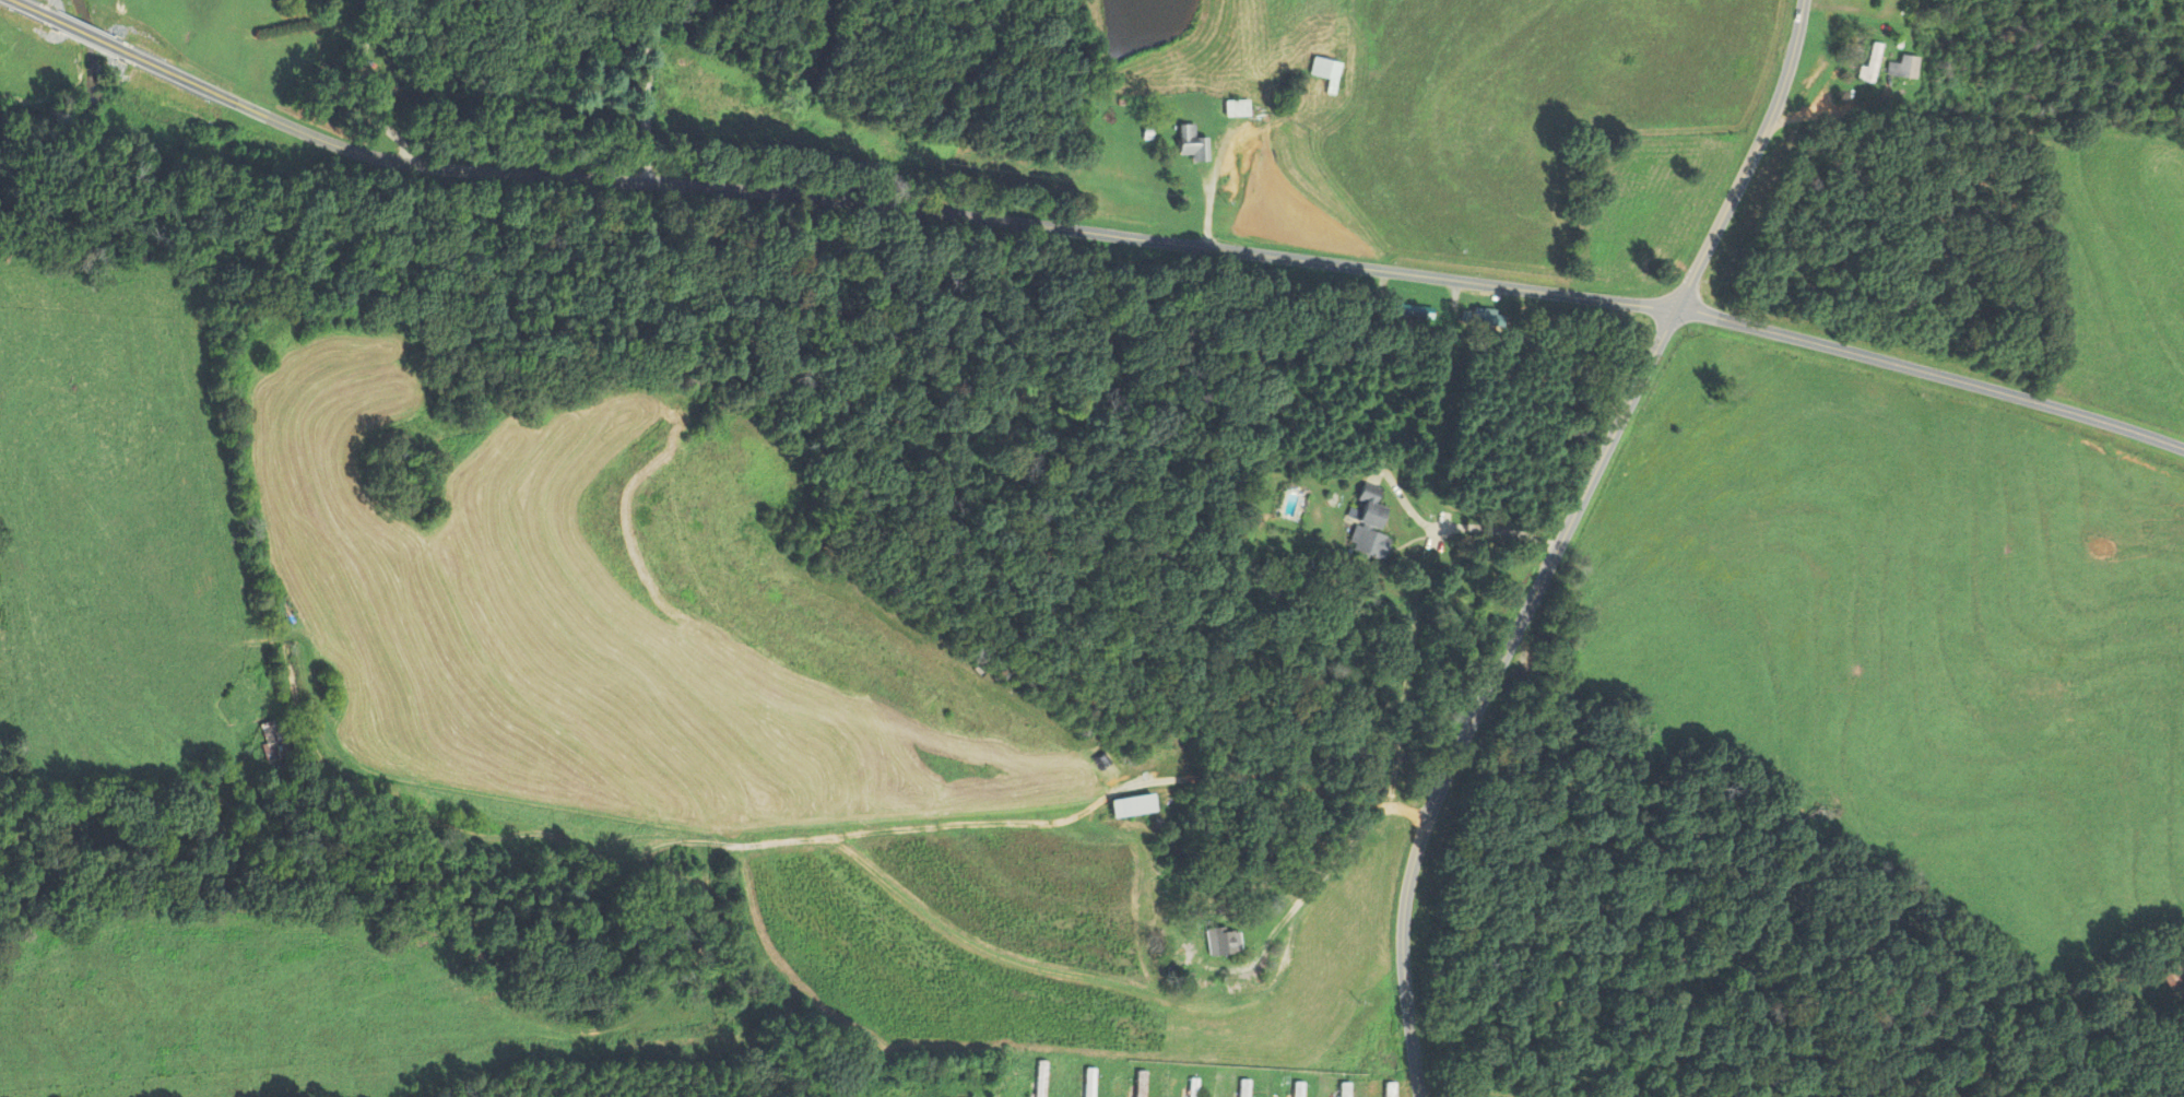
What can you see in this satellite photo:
building: (1849, 46)
building: (1869, 62)
building: (1900, 68)
building: (1324, 71)
road: (675, 79)
building: (1235, 108)
building: (1190, 143)
road: (1093, 236)
building: (1407, 311)
building: (1367, 524)
road: (1452, 528)
road: (1561, 539)
building: (276, 744)
building: (1132, 805)
road: (1343, 852)
building: (1221, 941)
building: (2168, 975)
building: (1040, 1078)
building: (1088, 1082)
building: (1140, 1083)
building: (1242, 1087)
building: (1192, 1088)
building: (1296, 1088)
building: (1343, 1089)
building: (1388, 1090)

